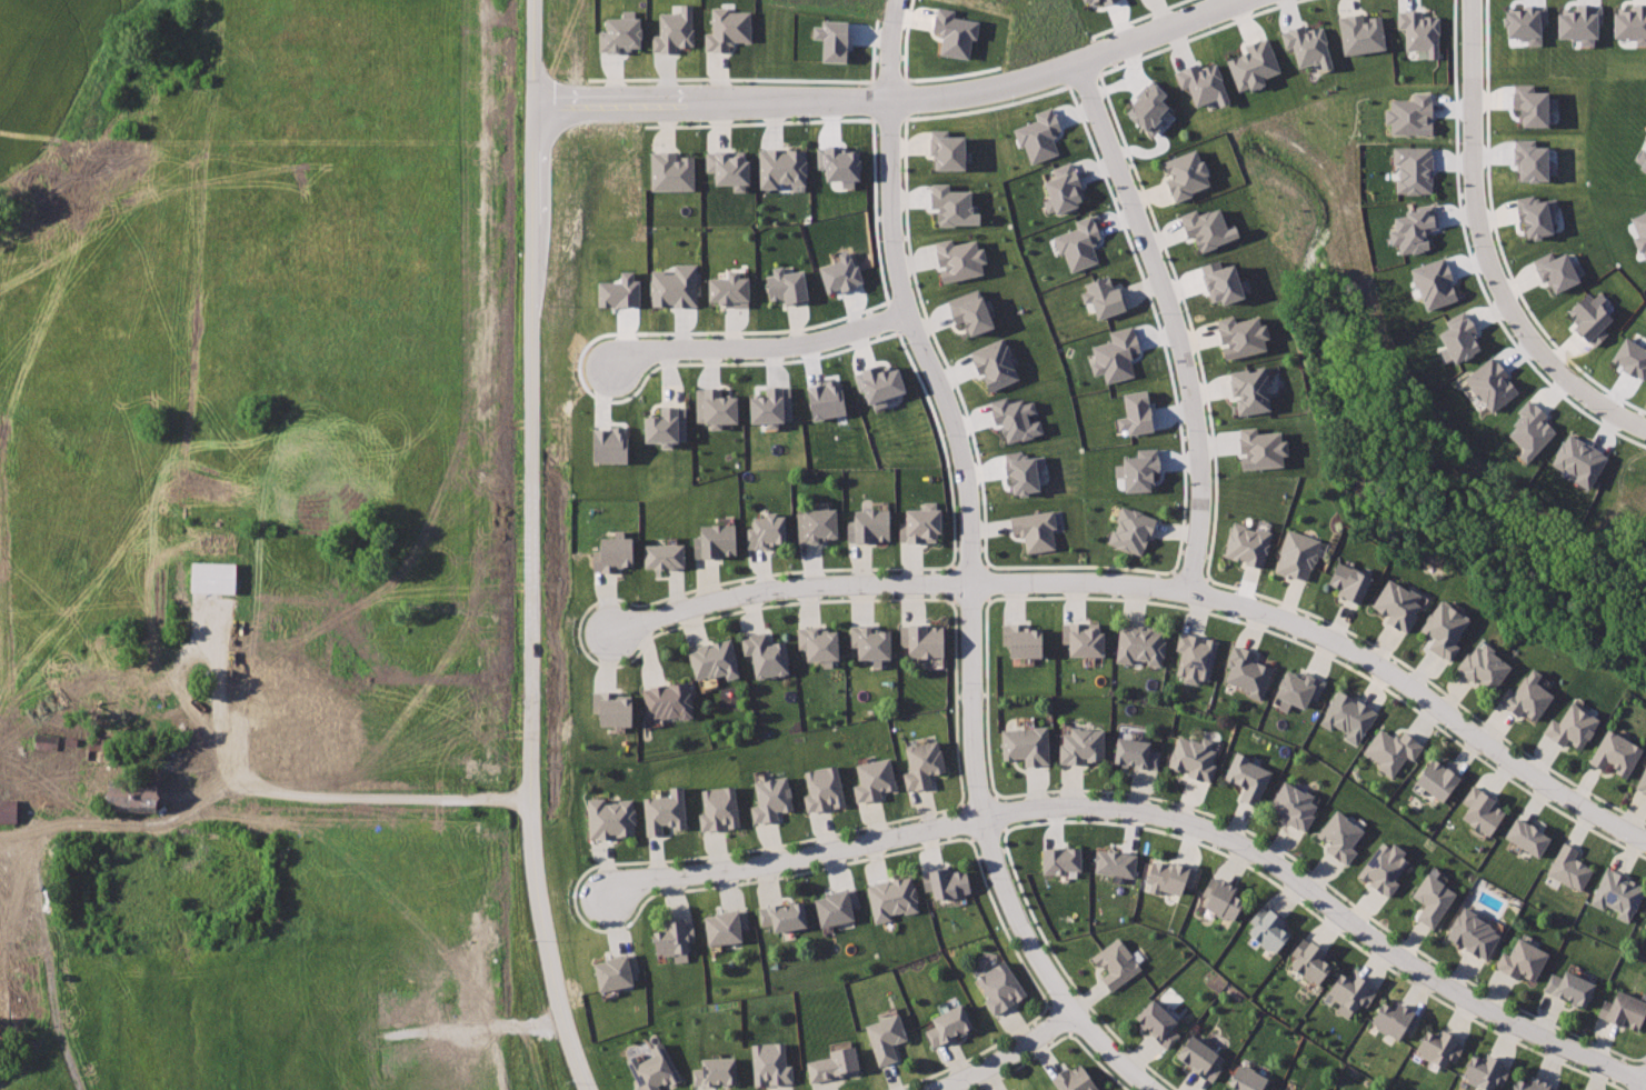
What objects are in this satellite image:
building: (1105, 1)
building: (1093, 3)
building: (726, 21)
building: (670, 22)
building: (1522, 23)
building: (1577, 23)
building: (1630, 23)
building: (619, 28)
building: (1416, 29)
building: (1358, 31)
building: (954, 32)
building: (832, 34)
building: (1304, 44)
building: (1254, 67)
building: (1199, 82)
road: (902, 103)
building: (1530, 103)
building: (1147, 104)
building: (1408, 113)
building: (1036, 128)
building: (945, 143)
building: (1529, 160)
building: (781, 162)
building: (668, 163)
building: (1644, 163)
building: (838, 164)
building: (728, 166)
building: (1411, 169)
road: (1474, 170)
building: (1186, 171)
building: (1059, 182)
building: (949, 201)
building: (1533, 214)
crop: (250, 218)
building: (1204, 222)
building: (1411, 229)
building: (1639, 233)
road: (1496, 237)
building: (1074, 238)
building: (959, 249)
road: (1470, 260)
building: (840, 269)
building: (1554, 270)
building: (1217, 276)
building: (786, 281)
building: (672, 282)
building: (1431, 282)
building: (726, 286)
building: (1101, 289)
building: (619, 291)
building: (969, 309)
building: (1588, 317)
road: (1168, 321)
building: (1237, 330)
building: (1456, 338)
road: (766, 349)
building: (1113, 349)
building: (1630, 358)
building: (994, 359)
building: (877, 380)
building: (1488, 383)
building: (1246, 386)
road: (1578, 388)
building: (767, 397)
building: (824, 399)
building: (715, 402)
building: (1128, 407)
building: (1012, 410)
building: (661, 419)
building: (1529, 429)
building: (1254, 443)
building: (603, 447)
building: (1577, 459)
building: (1141, 464)
building: (1021, 472)
building: (870, 524)
building: (817, 526)
building: (922, 526)
building: (1133, 528)
building: (1033, 529)
building: (767, 531)
building: (716, 540)
building: (1247, 541)
road: (533, 548)
building: (613, 553)
building: (665, 556)
building: (1297, 556)
road: (968, 566)
building: (212, 577)
building: (1350, 580)
road: (1159, 587)
building: (1400, 603)
building: (1446, 629)
building: (1084, 638)
building: (1025, 639)
building: (922, 640)
building: (871, 642)
building: (819, 643)
building: (1141, 646)
building: (766, 654)
building: (1196, 656)
building: (716, 659)
building: (1486, 666)
building: (1248, 670)
building: (1299, 688)
building: (1528, 696)
building: (668, 701)
building: (613, 709)
building: (1348, 718)
building: (1575, 726)
building: (327, 736)
building: (1027, 744)
building: (1084, 747)
building: (1394, 751)
building: (1617, 752)
building: (1137, 753)
building: (1196, 757)
building: (924, 764)
building: (1248, 778)
building: (875, 780)
building: (1438, 780)
building: (1643, 781)
building: (824, 788)
building: (134, 792)
road: (293, 797)
building: (772, 799)
building: (1295, 806)
building: (720, 809)
building: (1483, 810)
building: (9, 811)
building: (665, 811)
road: (1156, 814)
building: (611, 817)
road: (123, 827)
building: (1341, 837)
building: (1529, 837)
building: (1060, 863)
building: (1116, 867)
building: (1386, 868)
building: (1570, 868)
building: (1170, 879)
building: (945, 883)
building: (1618, 894)
building: (892, 898)
building: (1223, 898)
building: (1435, 899)
building: (836, 908)
building: (785, 916)
building: (1645, 924)
building: (727, 927)
building: (1270, 927)
building: (1475, 933)
building: (675, 938)
building: (1311, 959)
building: (1524, 960)
building: (1117, 962)
building: (617, 970)
building: (1572, 987)
building: (1354, 989)
building: (999, 990)
building: (1626, 1010)
building: (1395, 1021)
building: (1160, 1023)
building: (950, 1026)
building: (886, 1039)
building: (1440, 1048)
road: (1006, 1054)
building: (1203, 1059)
building: (836, 1063)
building: (771, 1064)
building: (657, 1070)
building: (1488, 1071)
building: (717, 1072)
building: (1250, 1080)
building: (1068, 1081)
building: (1533, 1084)
building: (1287, 1089)

